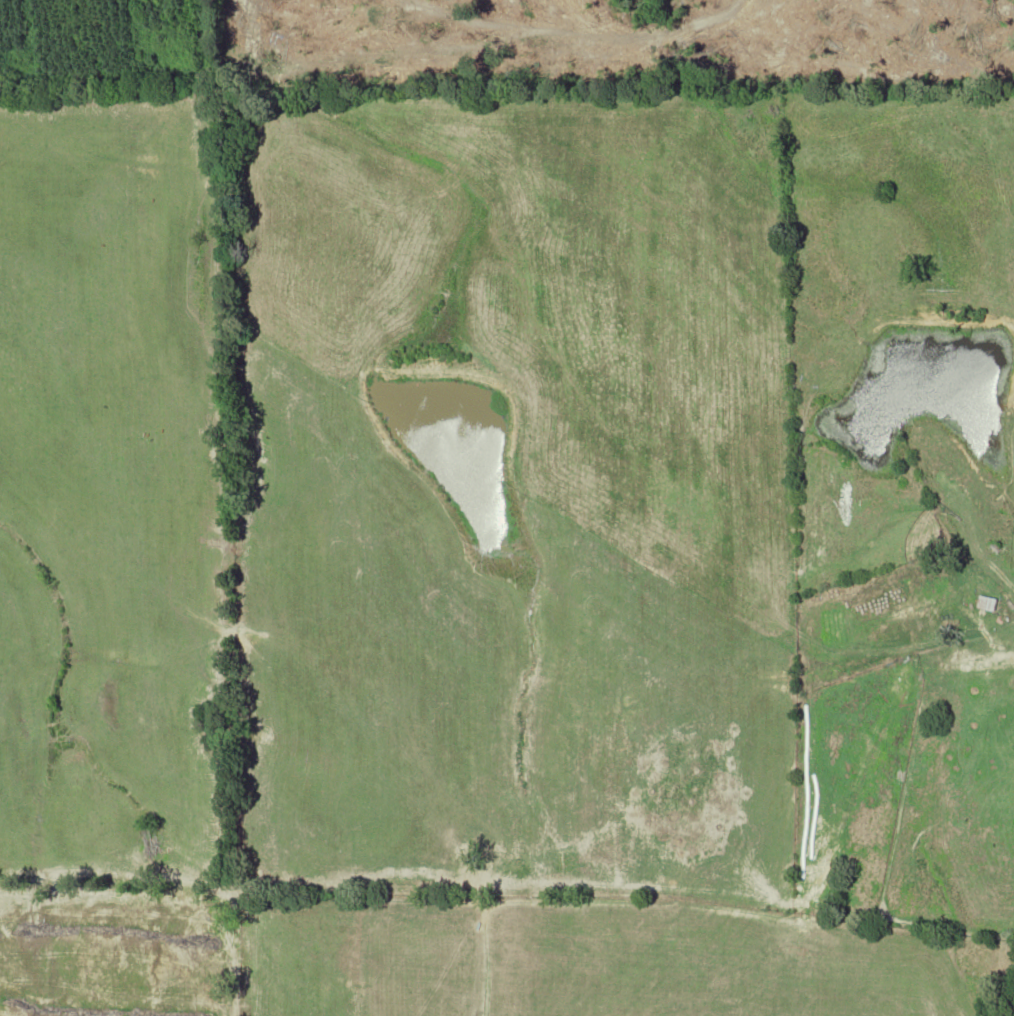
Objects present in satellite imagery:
building: (986, 604)

